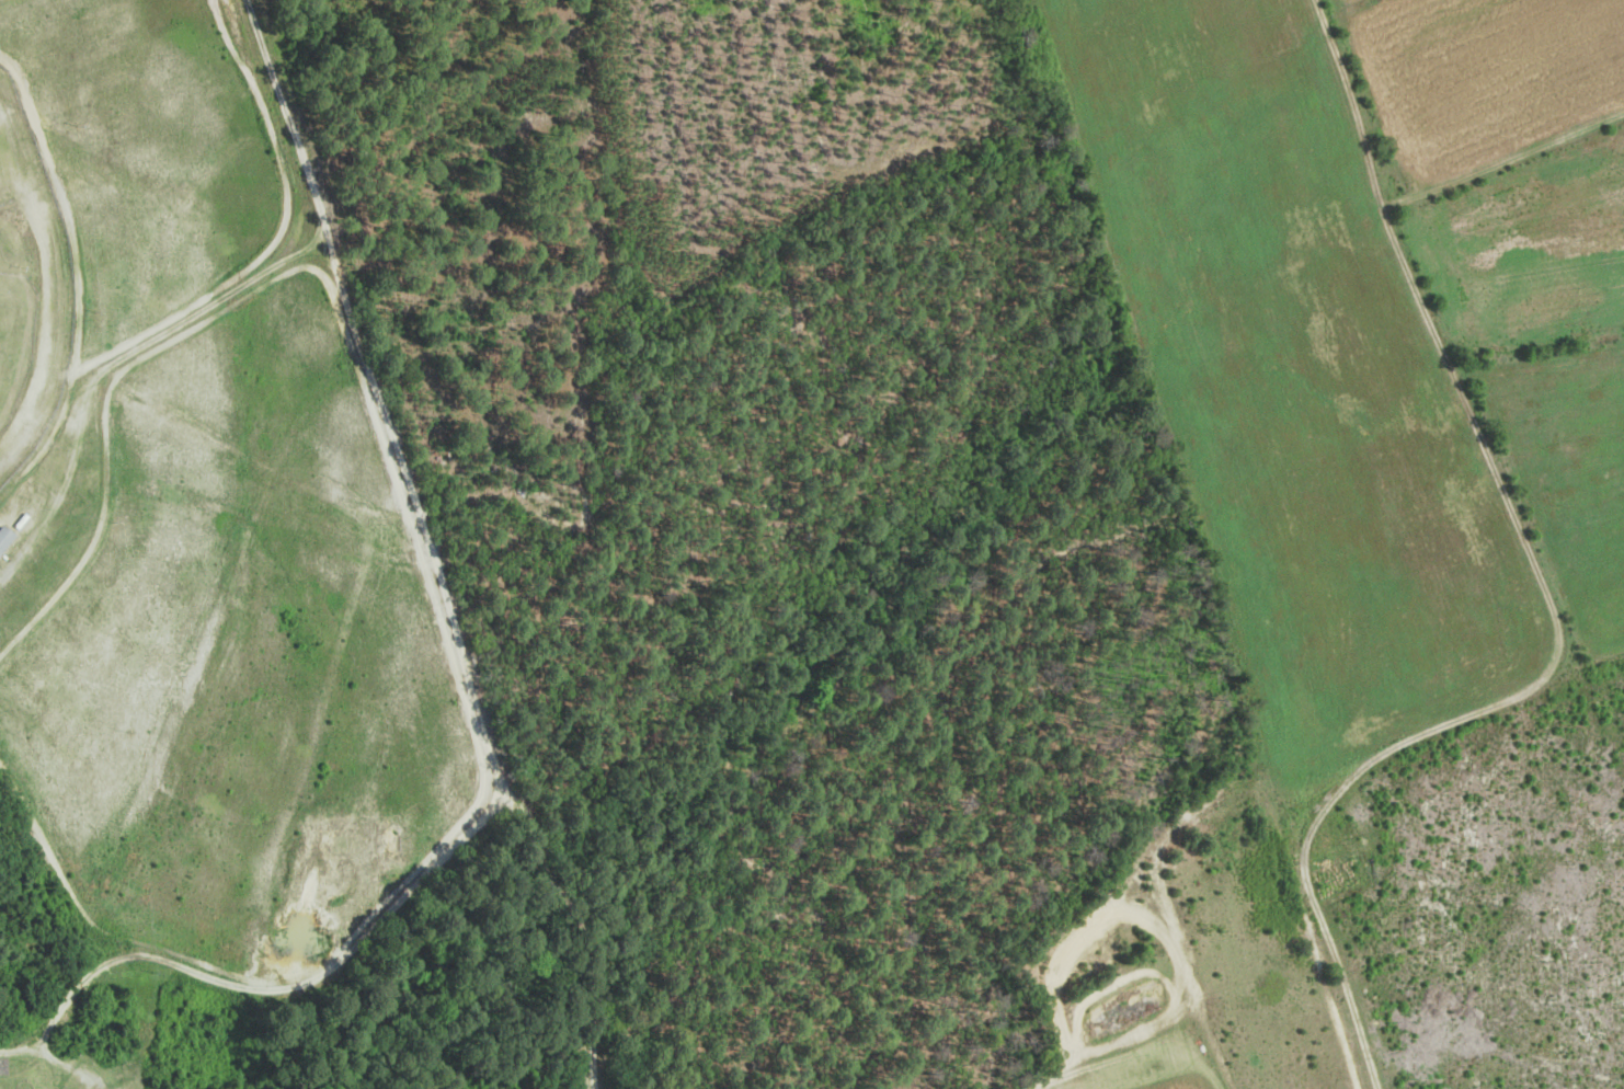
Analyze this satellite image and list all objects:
building: (3, 536)
road: (469, 676)

